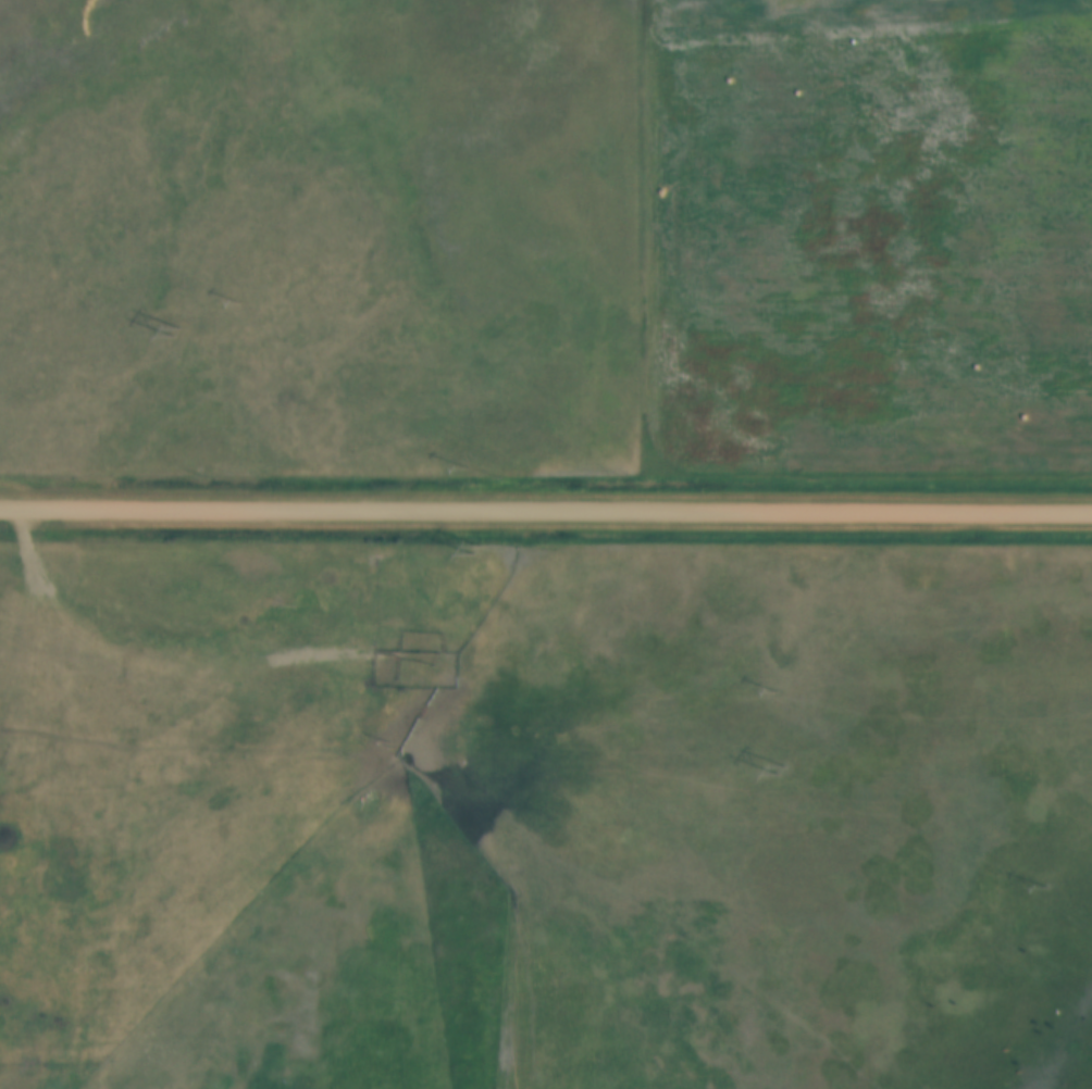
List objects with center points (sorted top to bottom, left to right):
road: (546, 506)
road: (16, 628)

